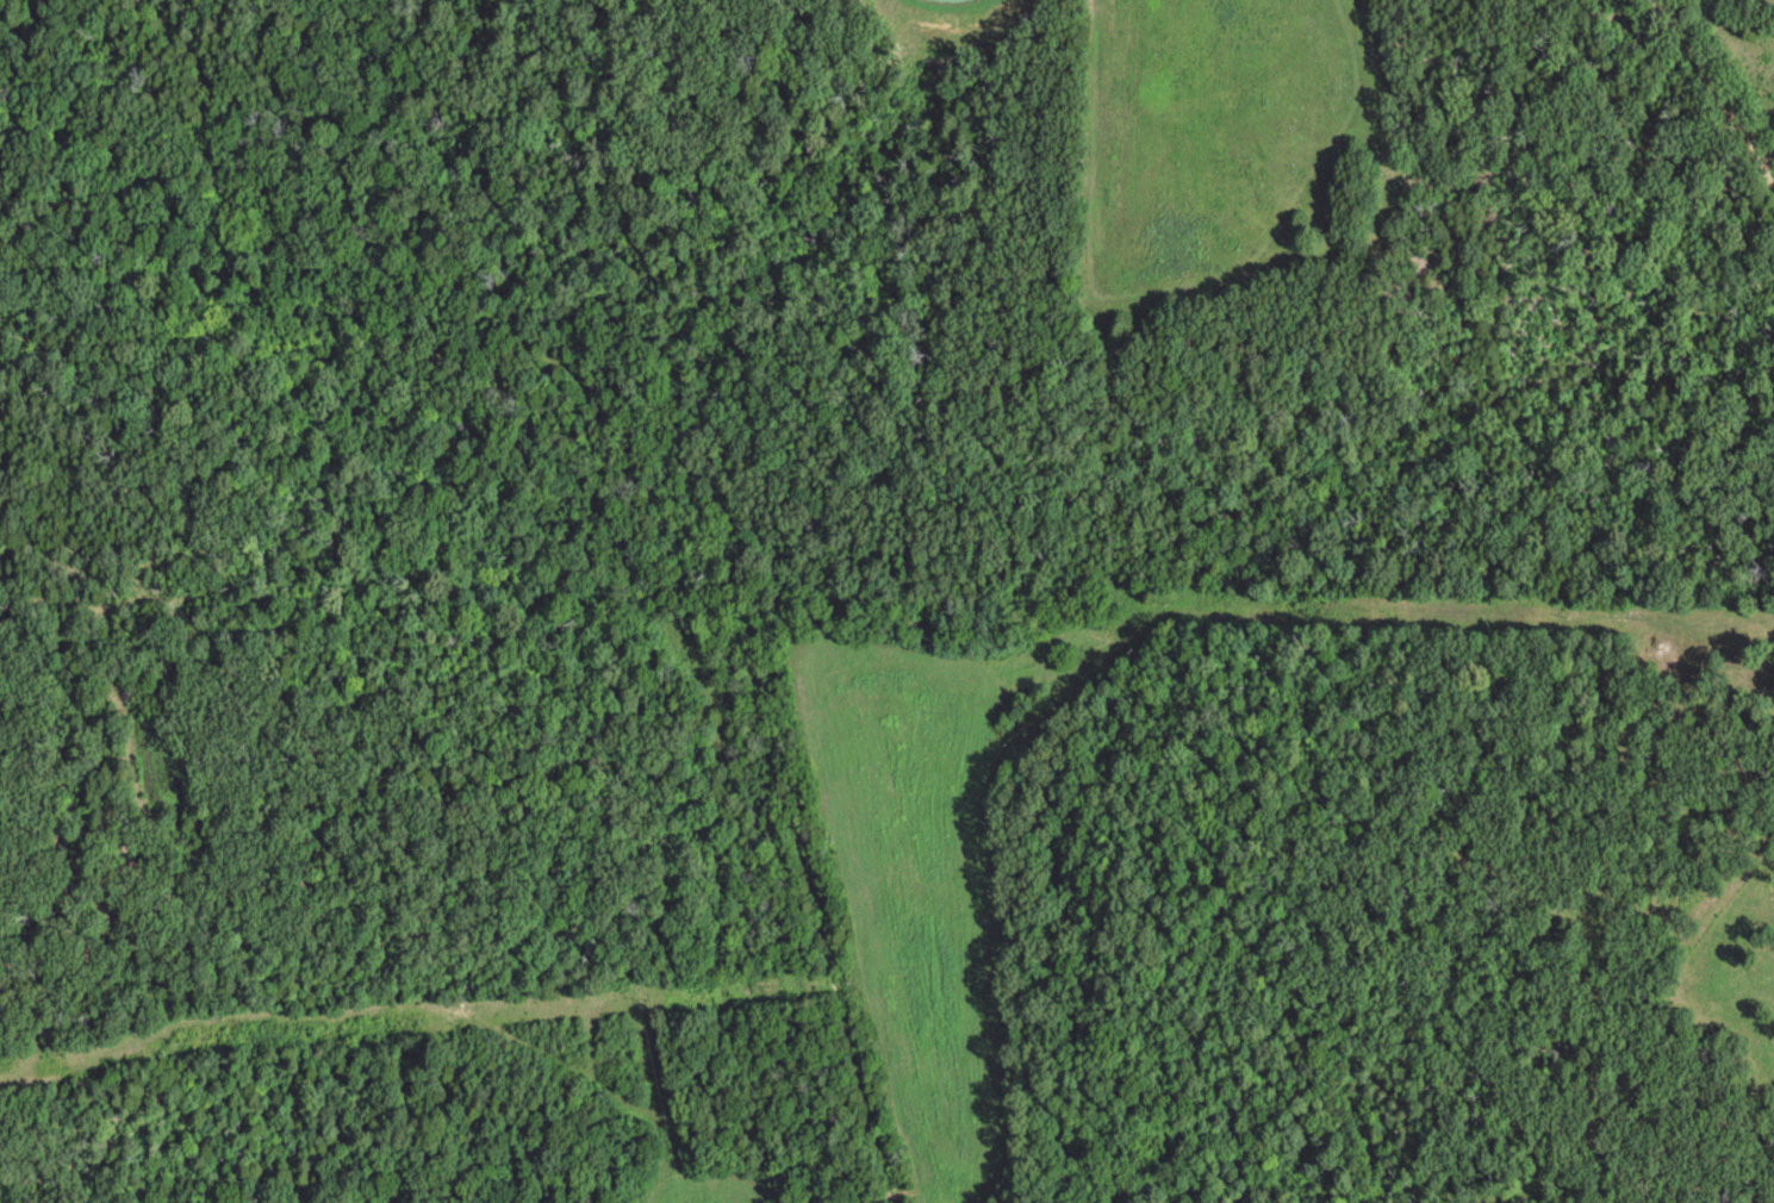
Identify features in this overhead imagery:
road: (1718, 86)

